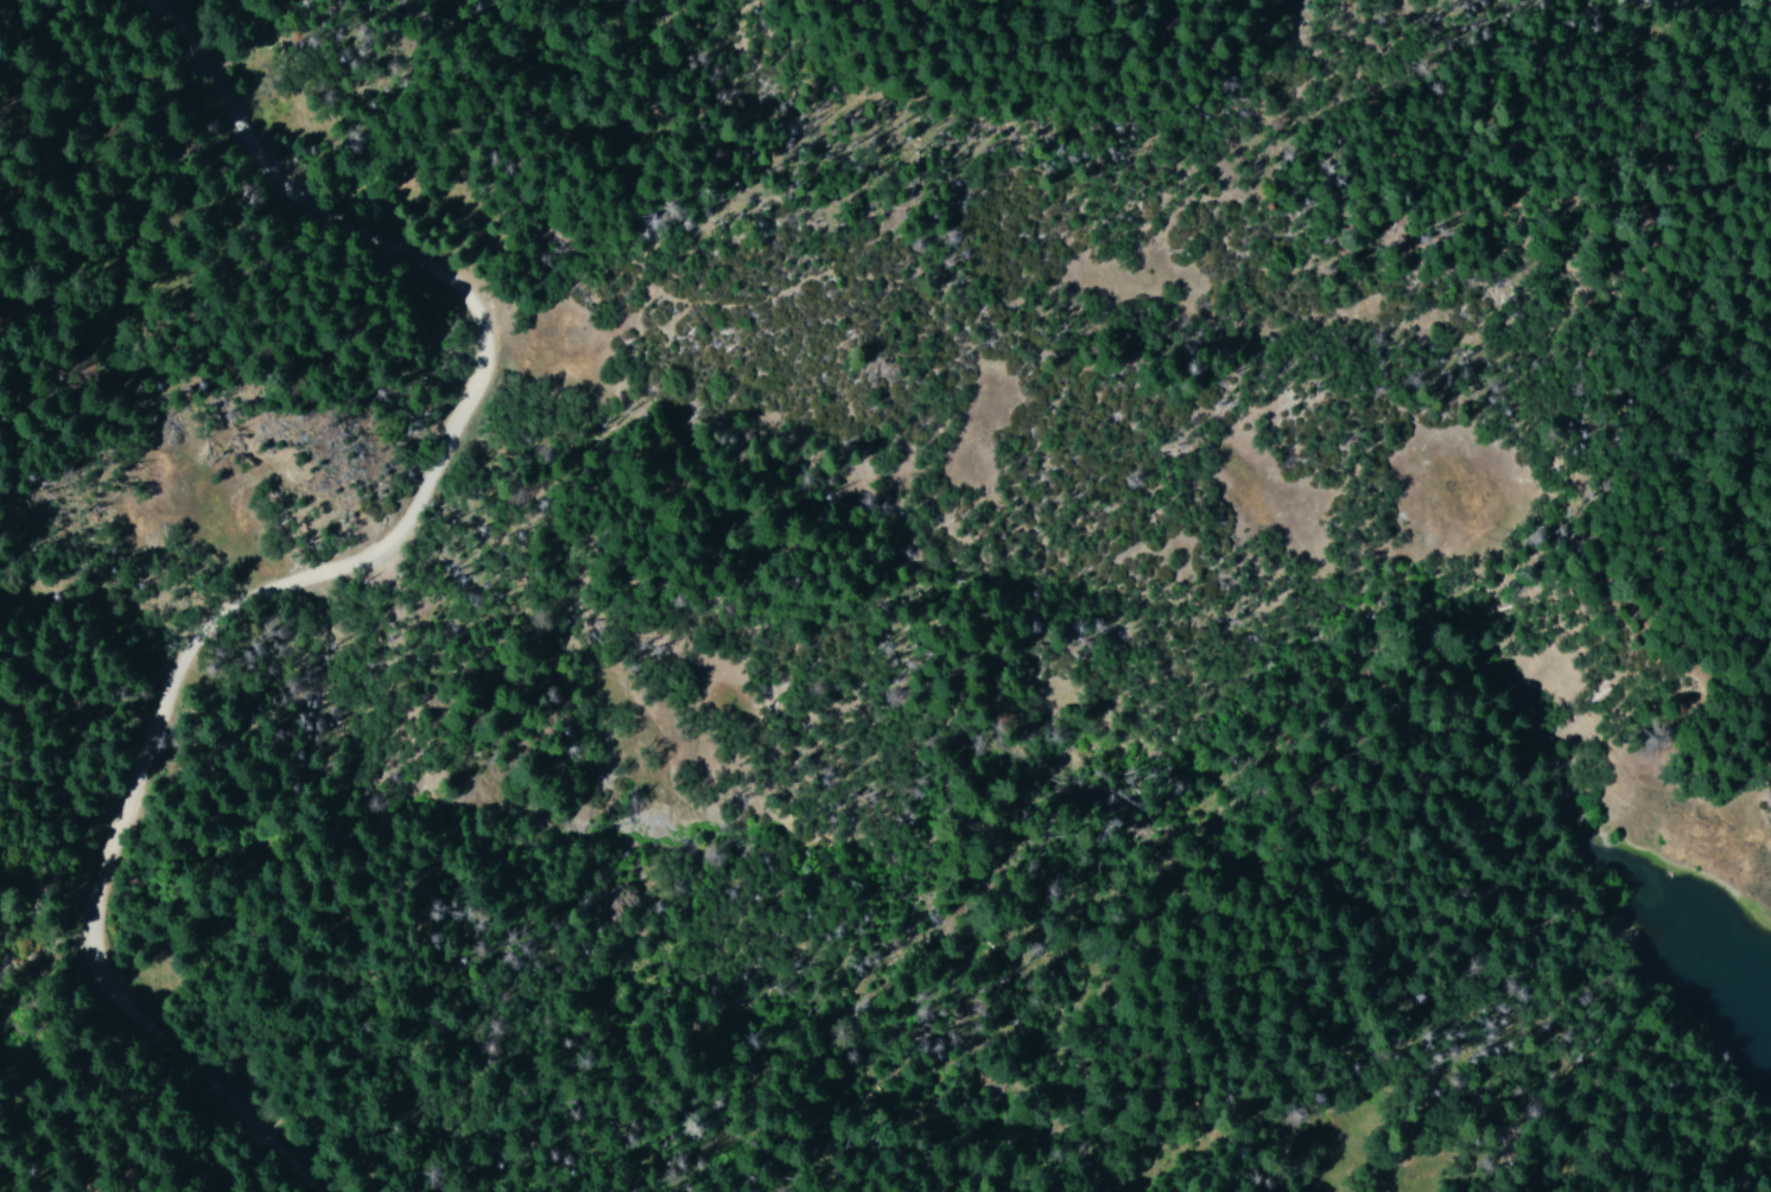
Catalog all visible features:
road: (855, 56)
road: (369, 578)

